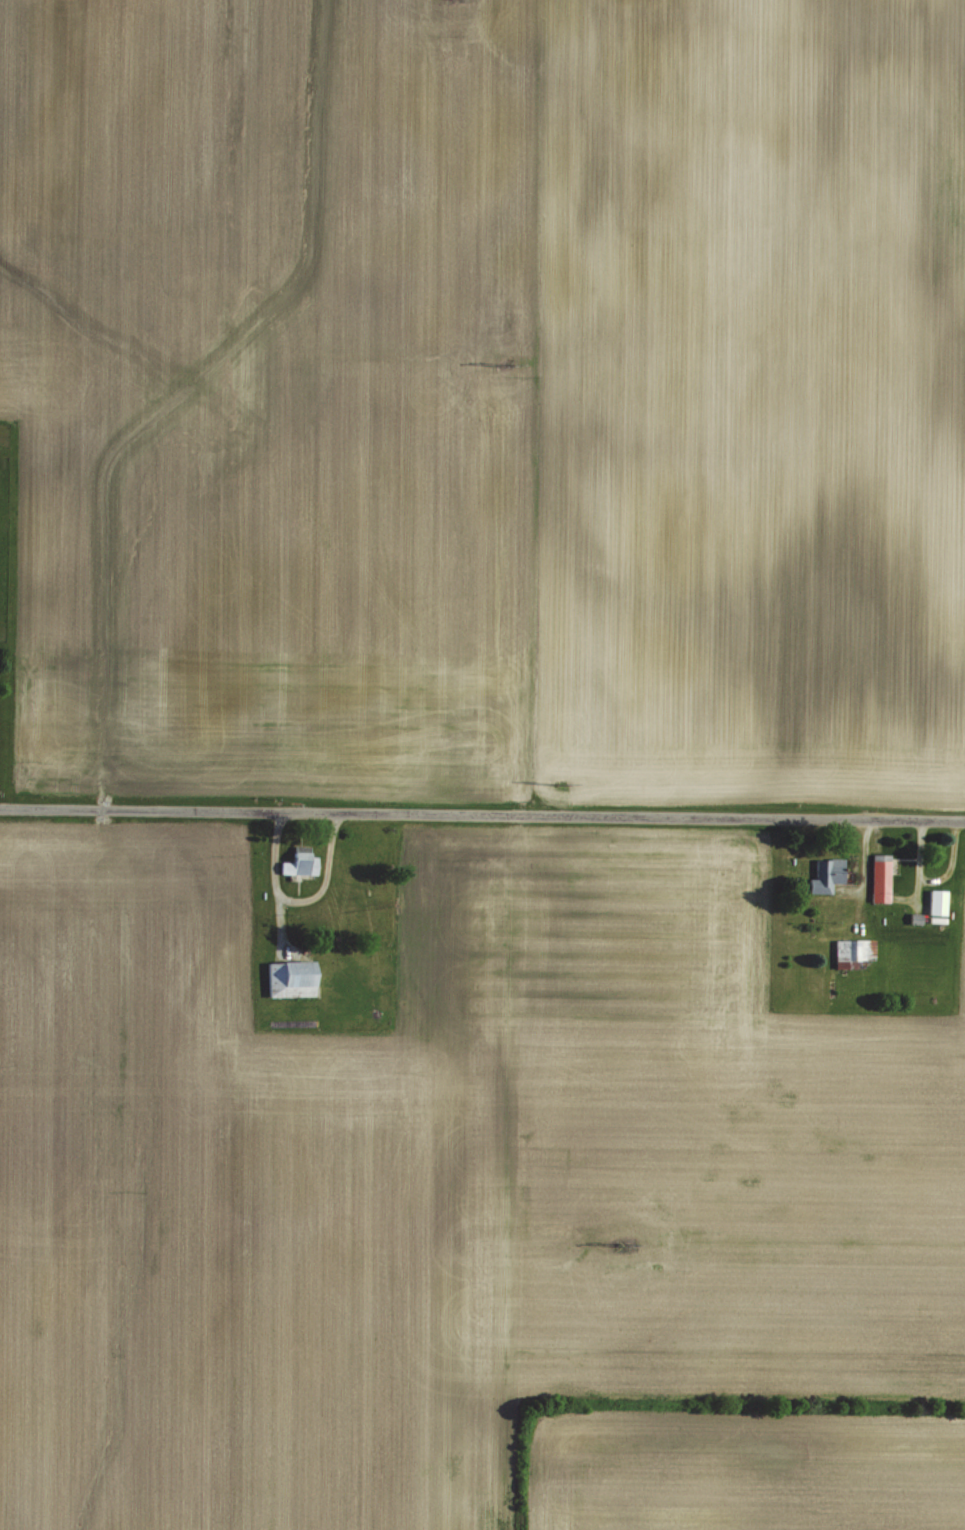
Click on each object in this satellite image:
power tower: (501, 364)
power tower: (560, 782)
road: (482, 814)
road: (866, 859)
building: (297, 862)
building: (824, 874)
road: (324, 876)
building: (878, 876)
road: (274, 880)
building: (935, 900)
building: (851, 949)
building: (288, 977)
power tower: (619, 1245)

